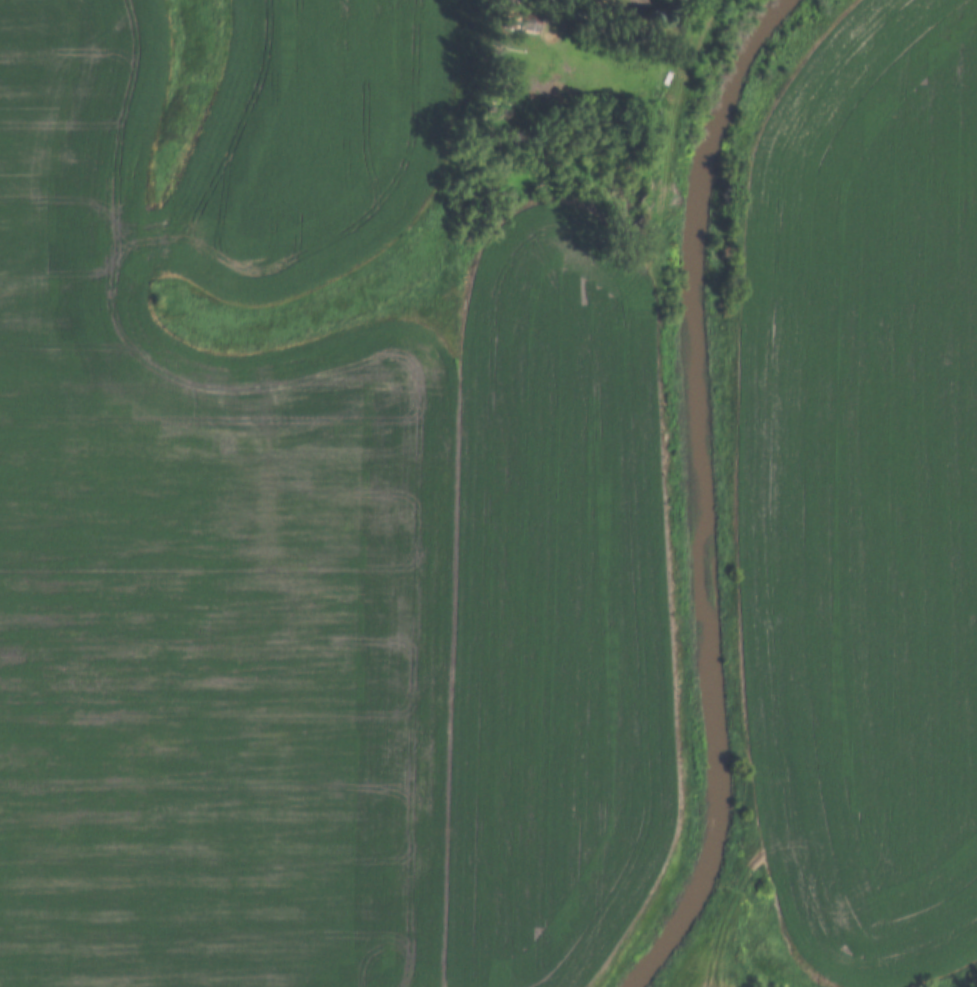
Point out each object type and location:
building: (521, 20)
crop: (865, 492)
crop: (312, 537)

